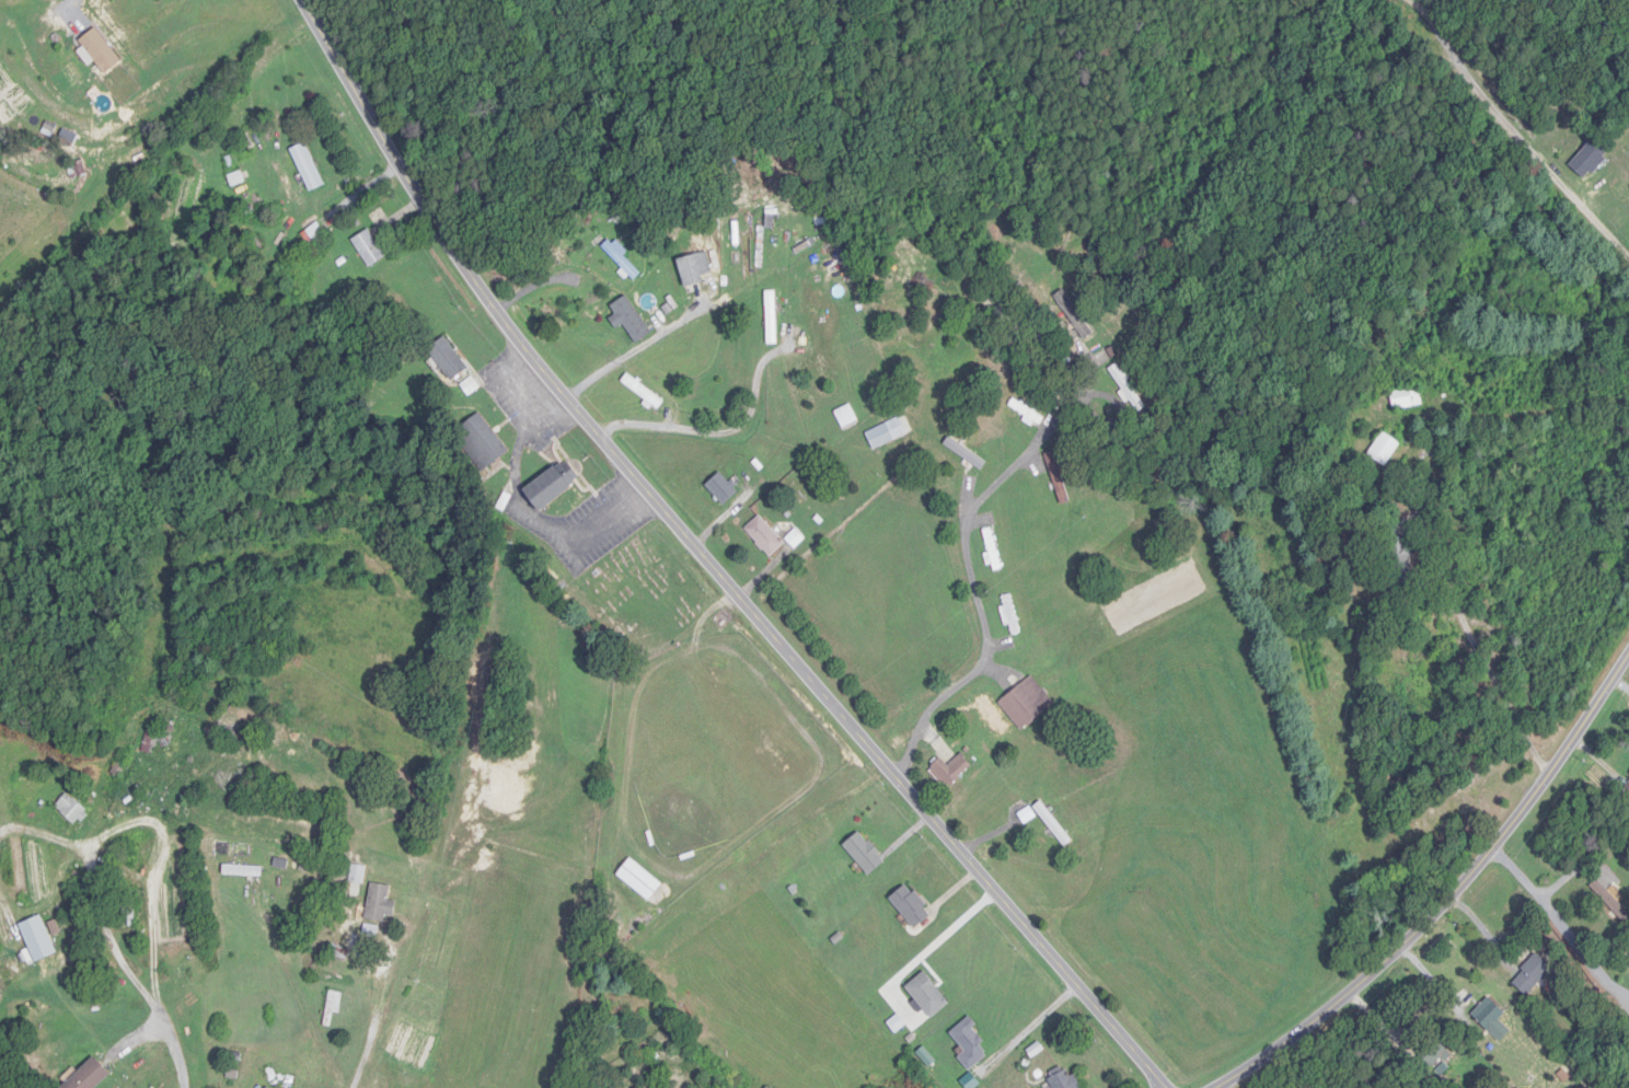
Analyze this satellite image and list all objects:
road: (66, 12)
road: (1514, 131)
building: (1572, 148)
road: (166, 161)
building: (308, 167)
building: (77, 171)
building: (369, 250)
building: (621, 259)
building: (695, 270)
building: (772, 317)
building: (631, 320)
road: (637, 344)
building: (449, 359)
building: (643, 392)
building: (1407, 397)
building: (1027, 413)
building: (847, 417)
road: (715, 426)
building: (890, 432)
building: (483, 443)
building: (1385, 449)
building: (964, 453)
building: (552, 486)
building: (723, 489)
building: (765, 536)
building: (993, 551)
road: (709, 563)
building: (1400, 565)
road: (970, 567)
park: (640, 591)
building: (1010, 615)
road: (1476, 644)
building: (1027, 703)
building: (230, 732)
building: (162, 744)
building: (951, 769)
building: (72, 811)
building: (1055, 826)
building: (865, 853)
road: (1578, 866)
building: (242, 871)
building: (359, 873)
building: (640, 880)
building: (1611, 901)
road: (1454, 902)
building: (380, 903)
building: (911, 905)
road: (171, 921)
road: (1563, 921)
building: (38, 939)
building: (1532, 974)
building: (928, 995)
building: (334, 1006)
building: (1489, 1014)
road: (379, 1017)
building: (970, 1043)
building: (1434, 1053)
building: (89, 1076)
building: (1066, 1080)
building: (269, 1087)

